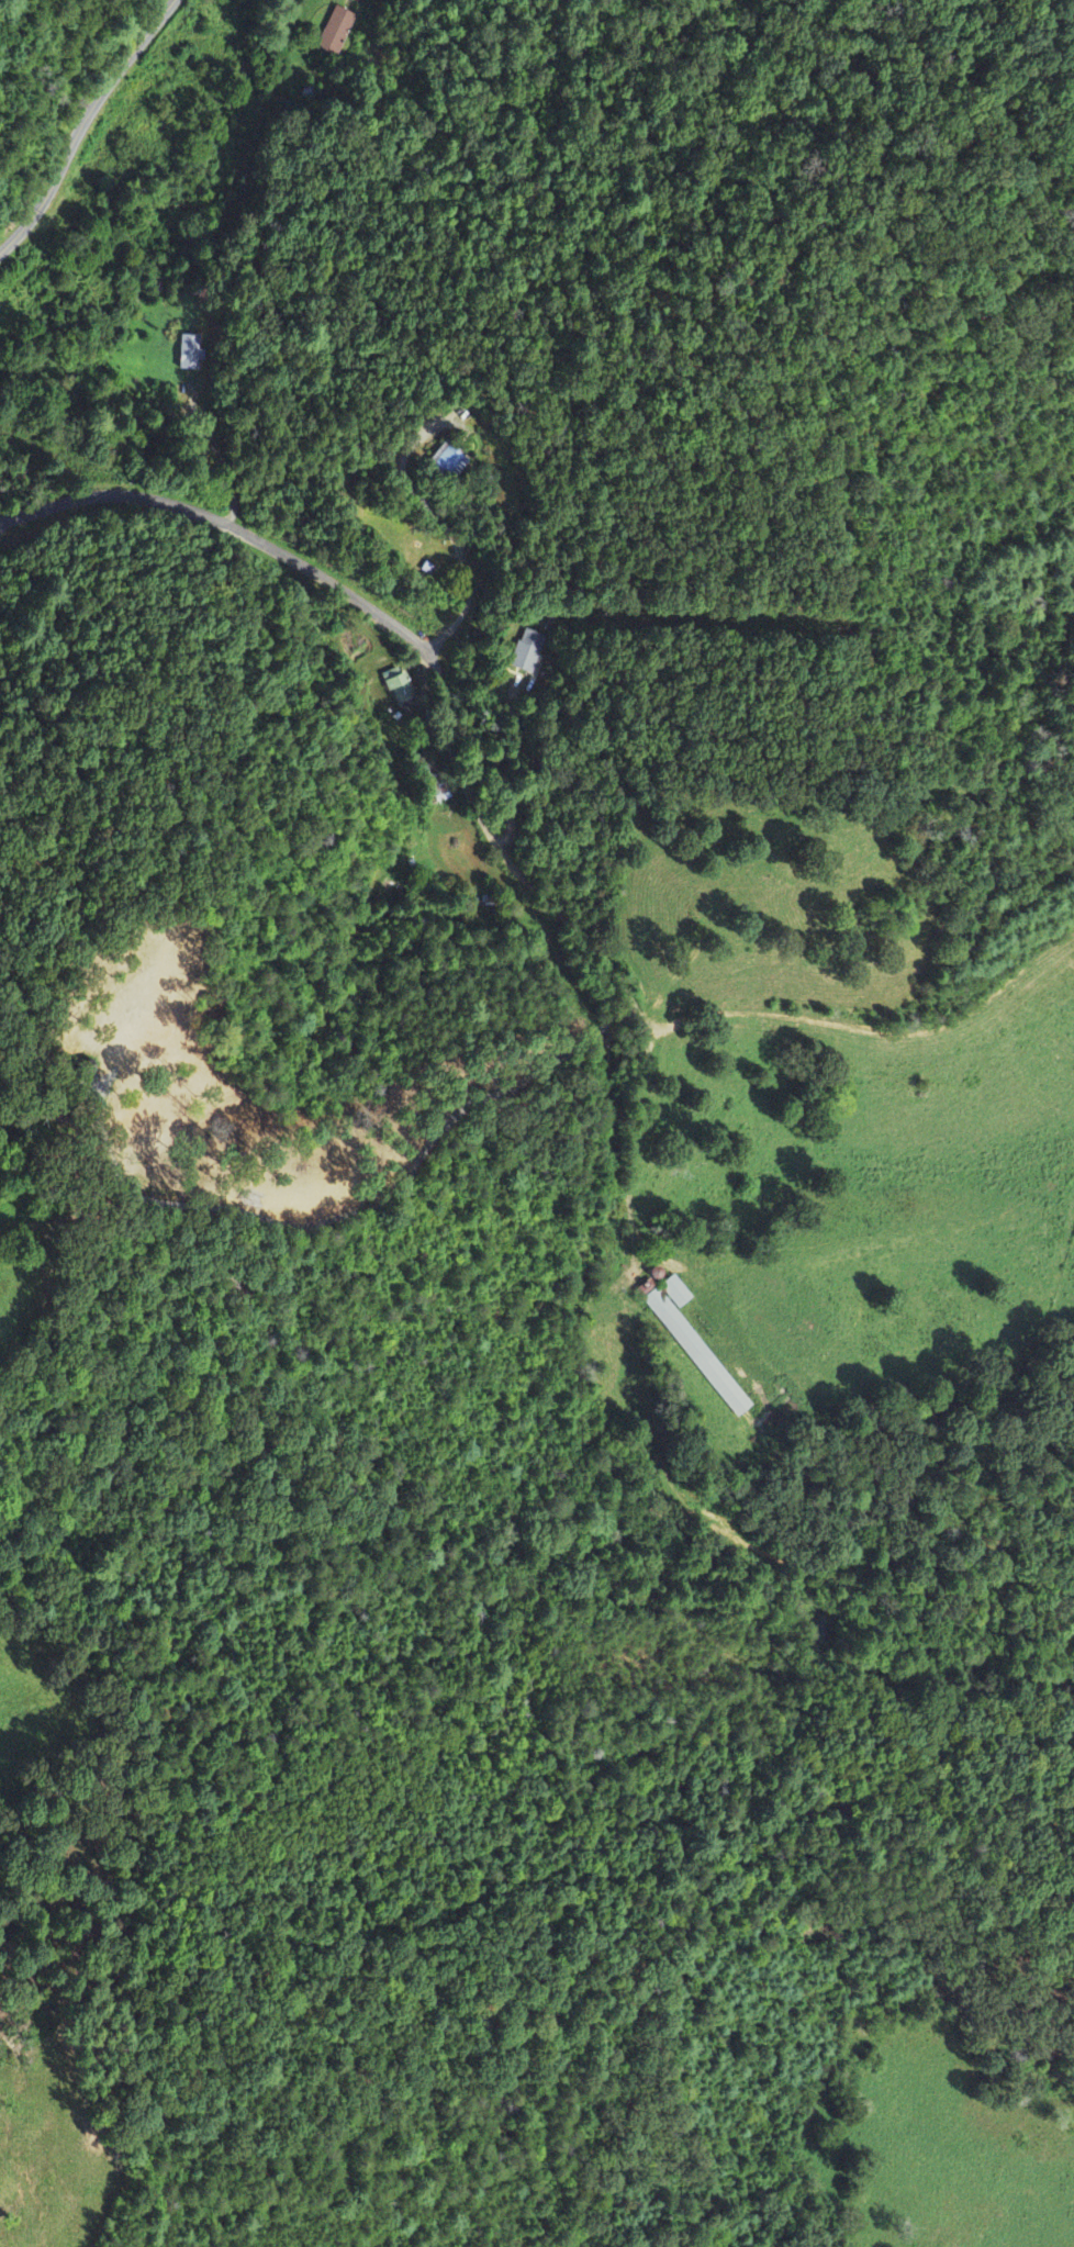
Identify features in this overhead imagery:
building: (337, 30)
road: (82, 124)
road: (377, 613)
building: (527, 652)
building: (399, 687)
building: (693, 1343)

